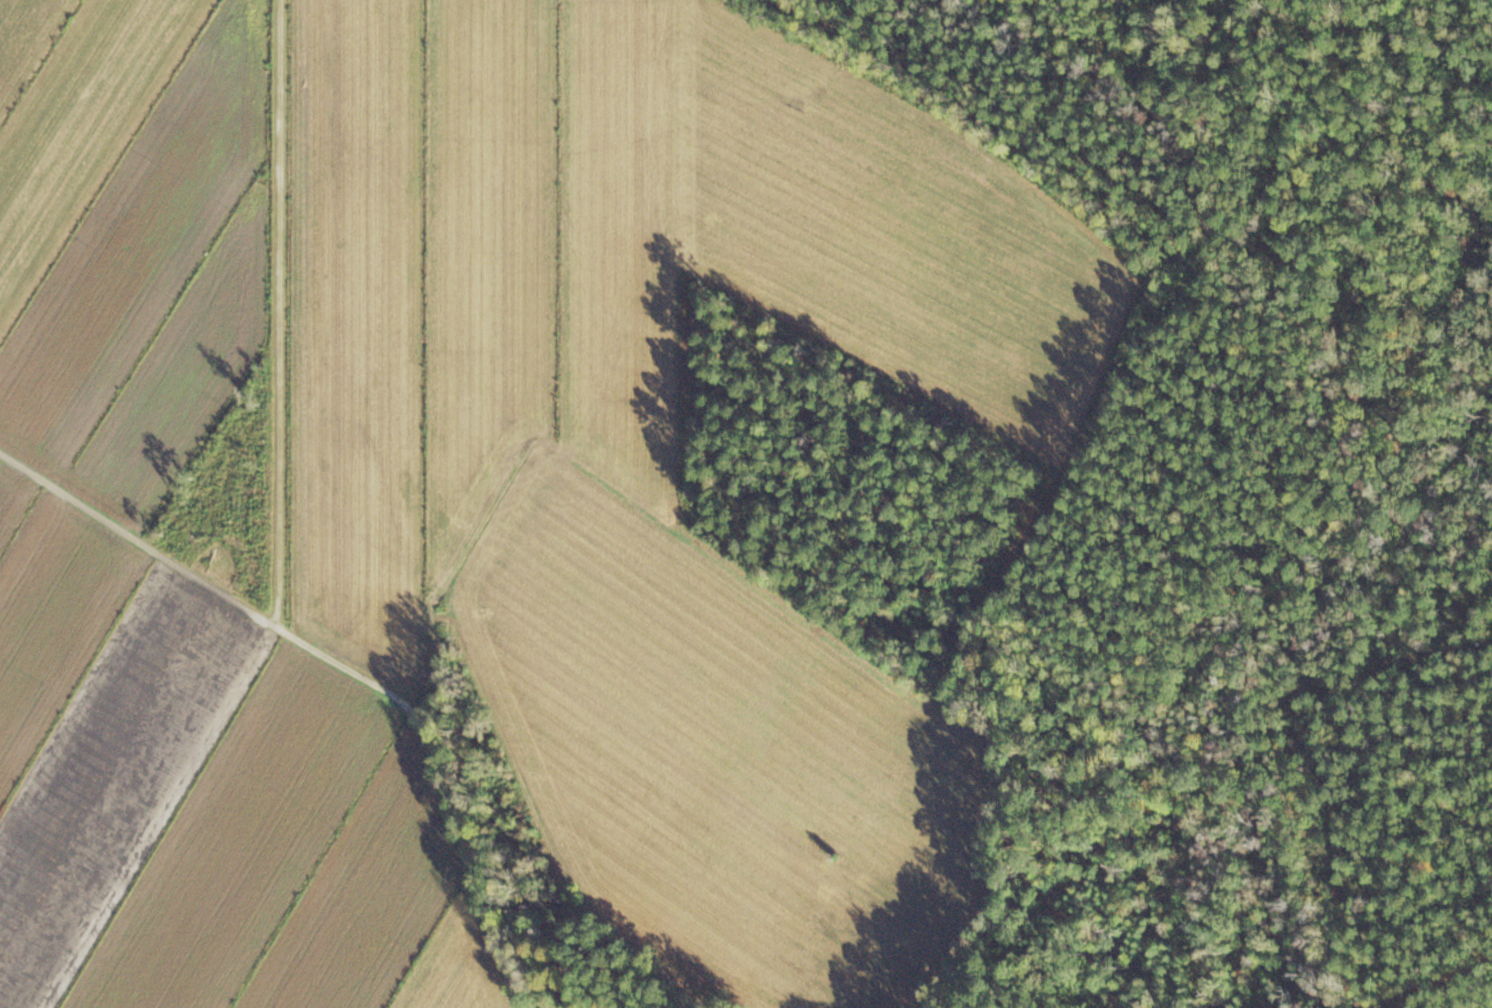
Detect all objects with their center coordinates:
road: (256, 325)
road: (130, 583)
road: (391, 815)

